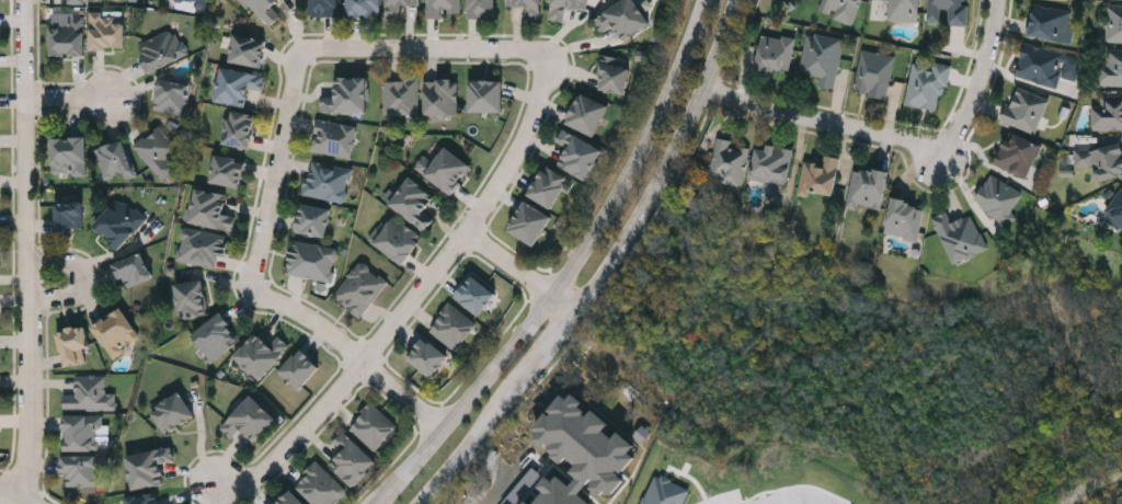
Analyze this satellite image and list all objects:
building: (77, 1)
building: (196, 2)
building: (398, 7)
building: (443, 7)
building: (529, 7)
building: (324, 8)
building: (364, 8)
building: (565, 8)
building: (482, 9)
building: (839, 9)
building: (874, 9)
building: (264, 10)
building: (904, 10)
building: (947, 10)
building: (623, 19)
building: (1047, 22)
building: (1113, 23)
building: (107, 31)
building: (68, 35)
building: (163, 49)
building: (248, 50)
road: (426, 50)
building: (775, 53)
building: (821, 58)
building: (1045, 64)
building: (1110, 68)
building: (615, 73)
building: (873, 73)
road: (980, 83)
building: (926, 84)
building: (237, 85)
building: (172, 95)
building: (348, 95)
building: (486, 95)
building: (401, 96)
building: (442, 98)
road: (72, 100)
building: (1023, 108)
building: (1107, 111)
building: (587, 115)
building: (239, 129)
road: (832, 130)
building: (334, 138)
building: (158, 150)
building: (1016, 153)
building: (579, 154)
building: (69, 156)
building: (114, 158)
building: (1100, 160)
building: (728, 162)
building: (770, 164)
road: (685, 165)
road: (283, 167)
building: (444, 169)
building: (229, 171)
building: (817, 177)
building: (328, 181)
building: (548, 186)
building: (867, 188)
building: (997, 198)
building: (413, 203)
building: (1114, 208)
building: (210, 209)
building: (70, 217)
building: (903, 219)
building: (314, 220)
building: (121, 222)
building: (529, 222)
building: (958, 236)
building: (397, 239)
building: (202, 247)
road: (27, 252)
building: (313, 260)
road: (568, 264)
building: (134, 270)
road: (525, 273)
road: (88, 285)
building: (362, 288)
building: (476, 295)
road: (419, 296)
building: (191, 299)
building: (453, 327)
building: (117, 332)
building: (216, 337)
building: (73, 345)
road: (356, 347)
road: (549, 353)
building: (262, 355)
building: (427, 356)
building: (300, 369)
building: (92, 394)
building: (173, 413)
building: (249, 420)
building: (373, 426)
building: (84, 433)
road: (203, 437)
road: (467, 447)
building: (352, 460)
building: (148, 468)
building: (83, 469)
road: (504, 471)
building: (319, 485)
building: (560, 493)
road: (791, 494)
road: (15, 496)
building: (144, 499)
building: (289, 499)

